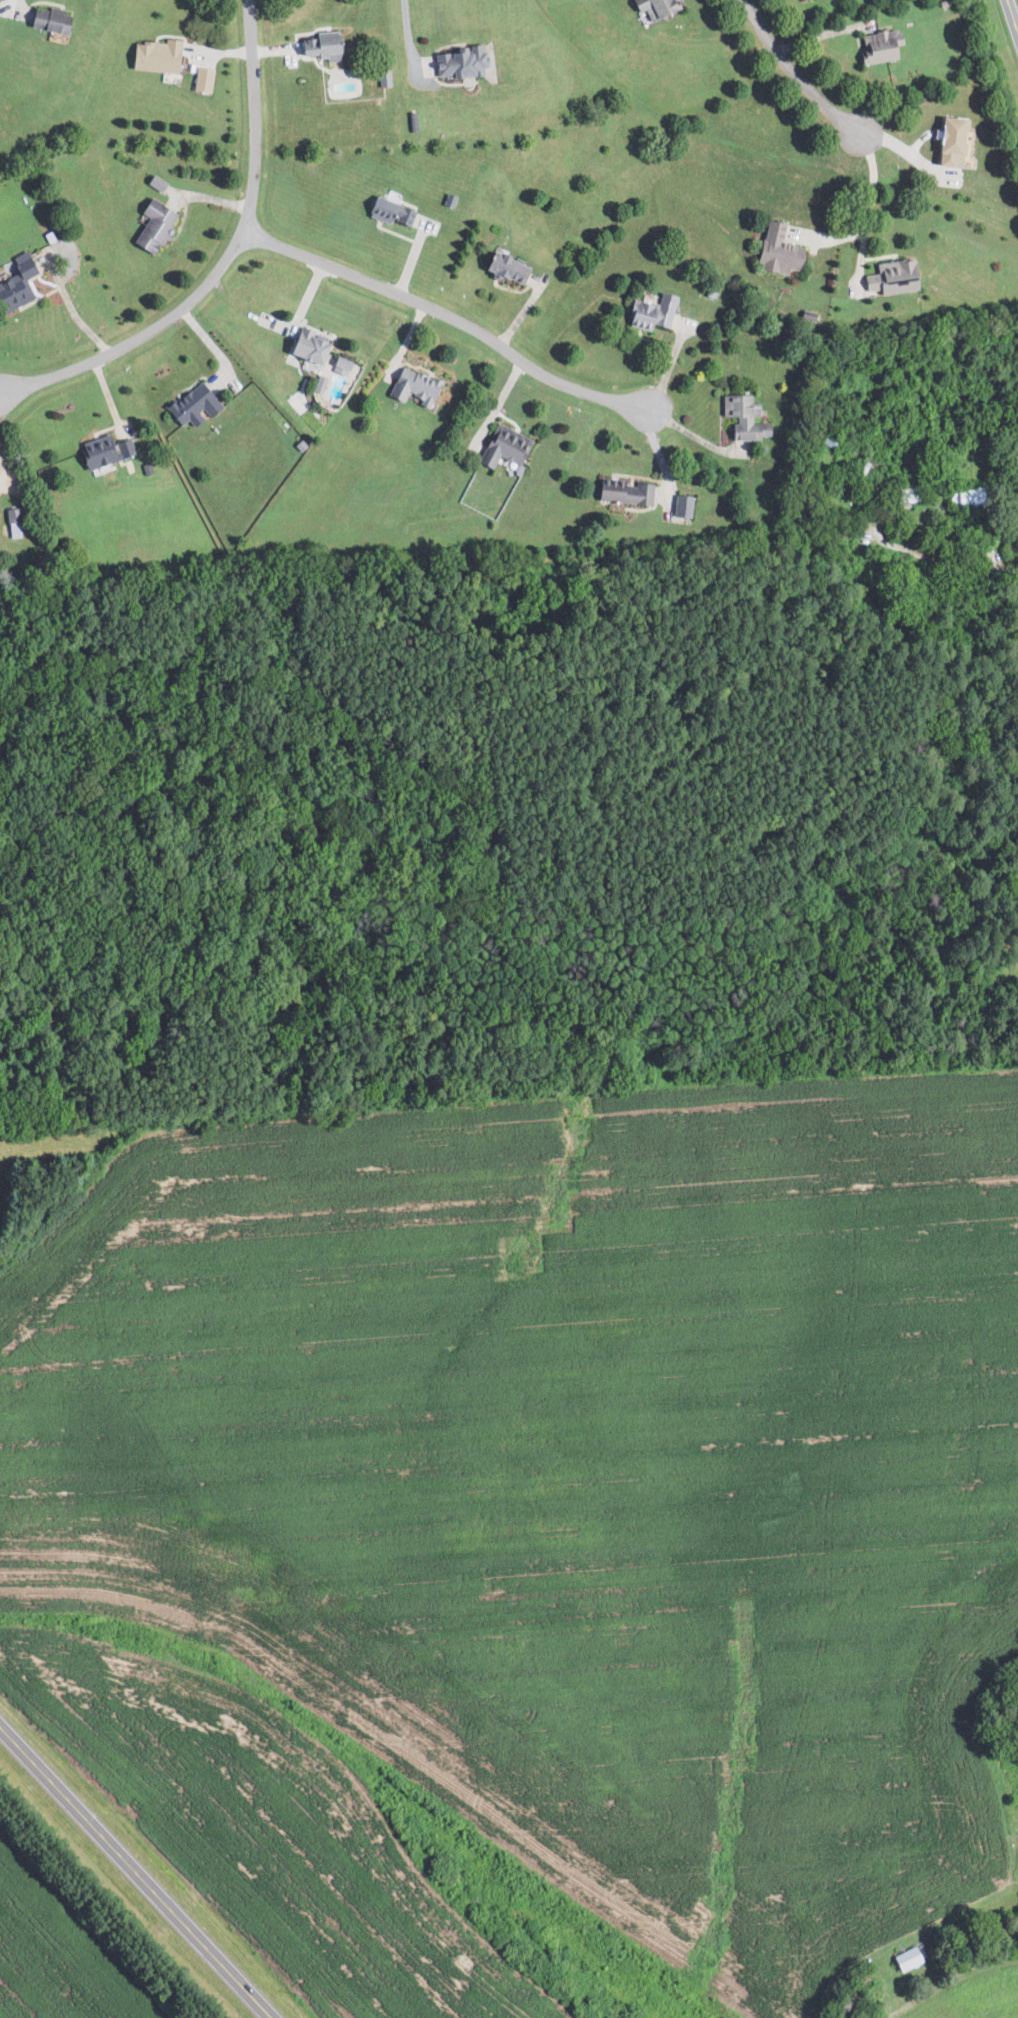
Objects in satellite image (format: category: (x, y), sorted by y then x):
building: (652, 6)
road: (1012, 16)
building: (48, 19)
road: (406, 27)
road: (814, 38)
building: (317, 45)
building: (878, 46)
building: (154, 55)
building: (457, 61)
building: (384, 77)
road: (788, 77)
building: (201, 78)
building: (952, 137)
road: (871, 196)
building: (387, 210)
building: (151, 225)
building: (775, 249)
road: (225, 260)
building: (503, 267)
building: (891, 276)
building: (16, 281)
road: (391, 291)
building: (649, 312)
road: (76, 316)
building: (304, 344)
building: (338, 365)
building: (318, 383)
building: (412, 386)
road: (589, 391)
building: (191, 405)
building: (743, 417)
road: (692, 434)
building: (502, 446)
building: (101, 450)
road: (1, 482)
building: (621, 491)
building: (683, 506)
road: (945, 564)
road: (136, 1872)
building: (905, 1958)
road: (949, 1981)

